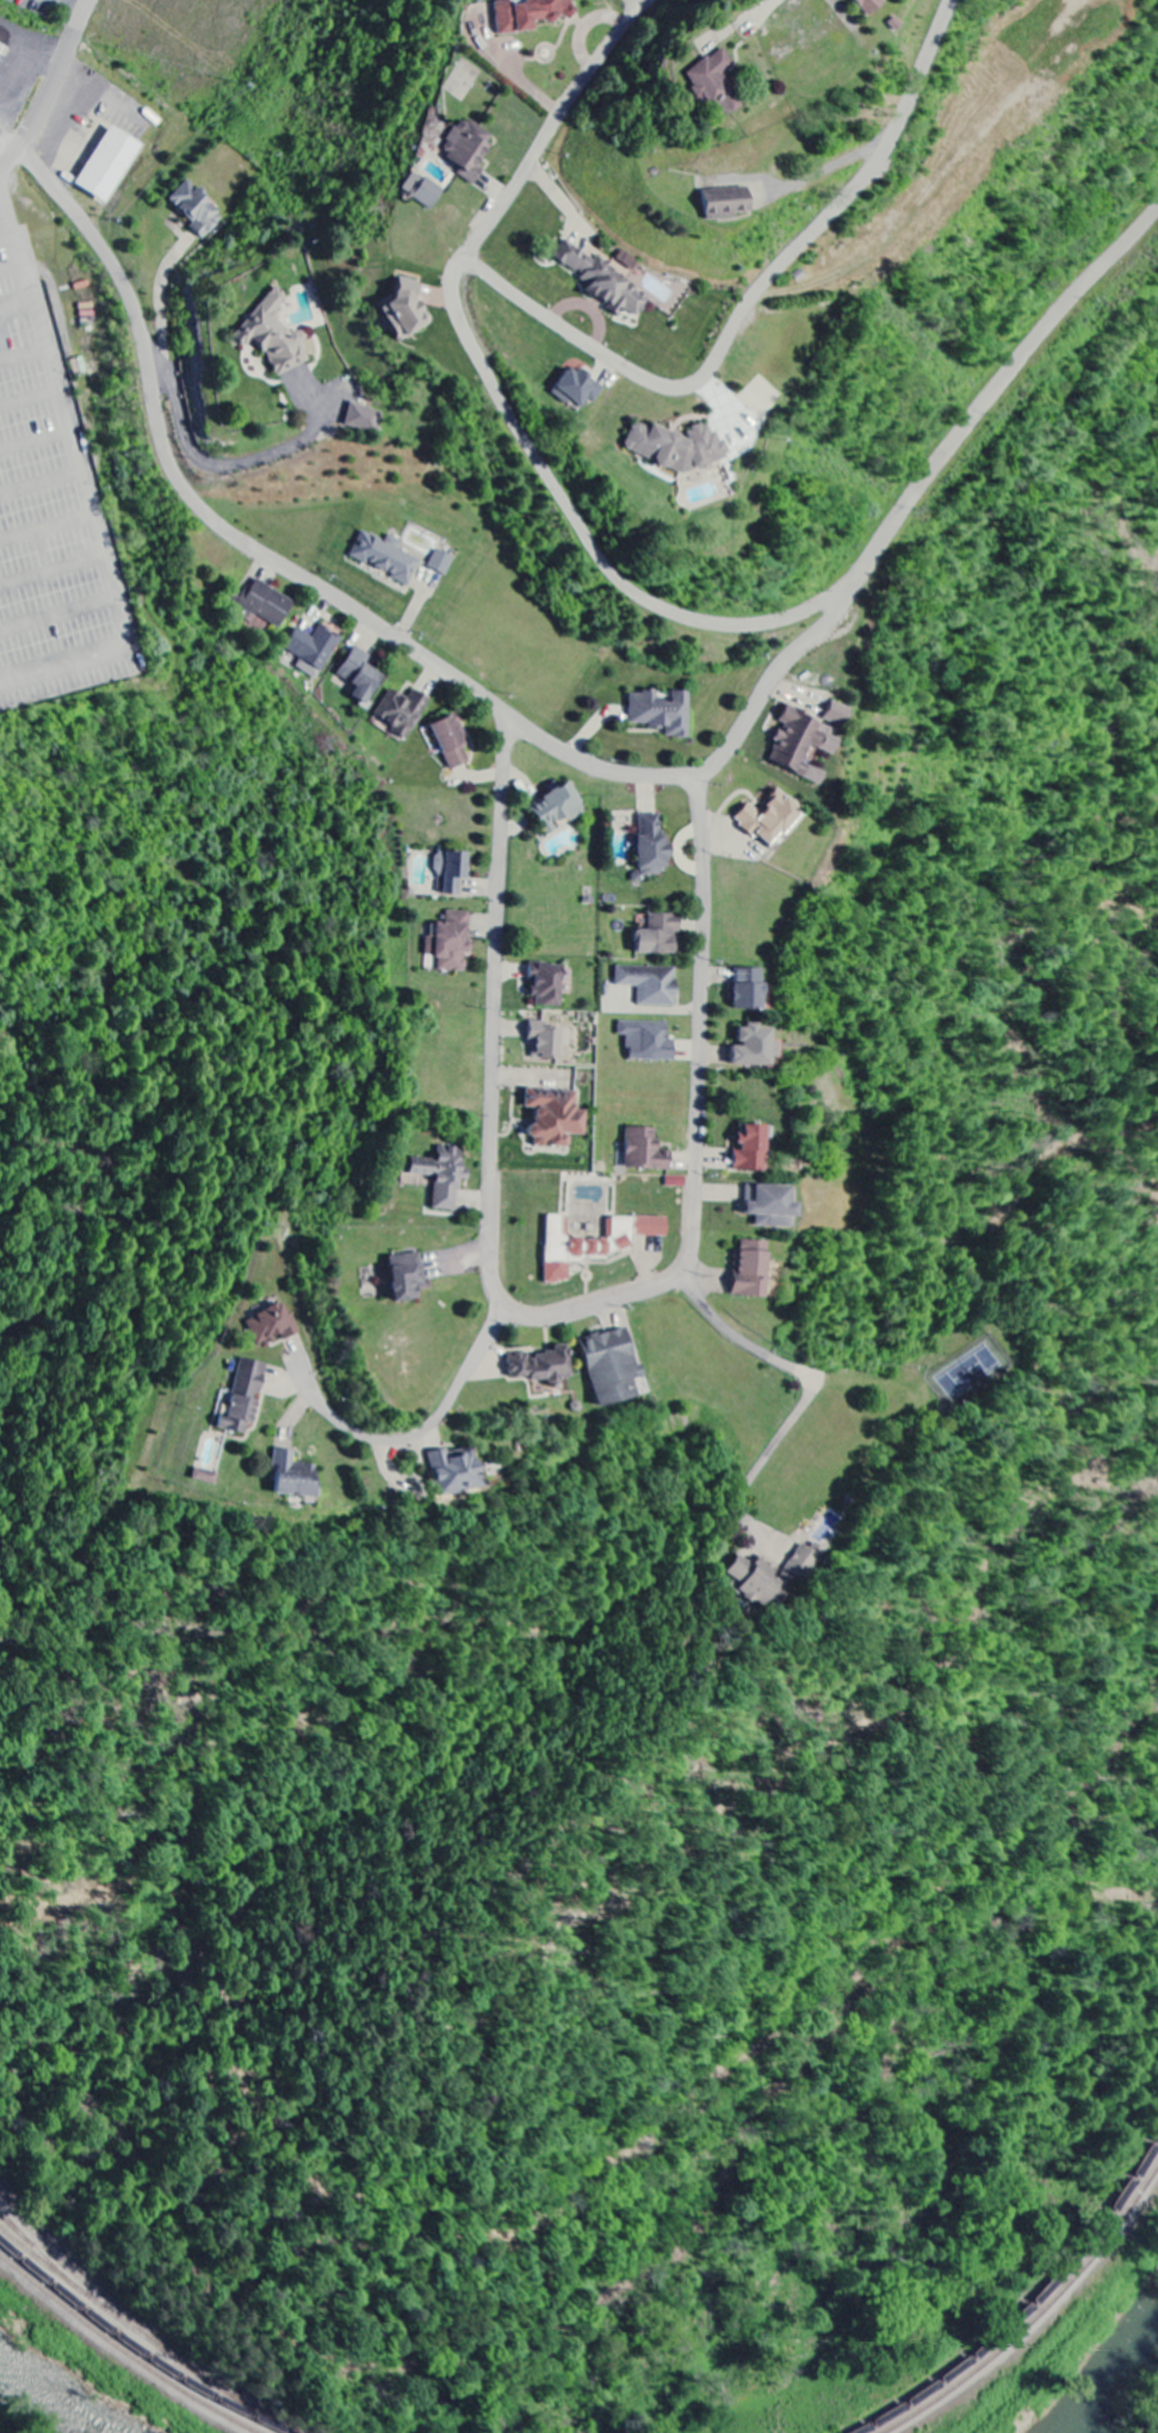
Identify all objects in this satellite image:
building: (875, 4)
building: (530, 13)
building: (2, 50)
building: (722, 75)
road: (58, 76)
road: (556, 125)
building: (469, 149)
road: (10, 162)
building: (110, 163)
building: (422, 190)
building: (731, 200)
building: (197, 209)
building: (602, 279)
road: (751, 302)
building: (407, 311)
building: (275, 334)
building: (577, 388)
building: (364, 419)
building: (677, 447)
road: (581, 527)
building: (386, 556)
building: (442, 562)
building: (267, 603)
building: (314, 650)
building: (361, 675)
building: (403, 711)
building: (663, 712)
building: (837, 715)
building: (453, 741)
building: (804, 743)
road: (574, 754)
building: (559, 808)
building: (772, 820)
building: (654, 846)
building: (452, 872)
building: (661, 935)
building: (452, 941)
building: (651, 984)
building: (547, 986)
building: (749, 989)
building: (649, 1040)
building: (550, 1042)
building: (556, 1117)
building: (646, 1150)
building: (753, 1150)
building: (444, 1177)
building: (772, 1206)
building: (596, 1243)
building: (753, 1270)
building: (408, 1277)
road: (698, 1302)
road: (551, 1314)
building: (272, 1326)
building: (541, 1366)
building: (612, 1367)
building: (244, 1398)
road: (422, 1431)
building: (456, 1472)
building: (205, 1477)
building: (296, 1477)
railway: (1030, 2308)
railway: (1036, 2317)
railway: (136, 2346)
railway: (123, 2351)
river: (1117, 2389)
river: (49, 2397)

